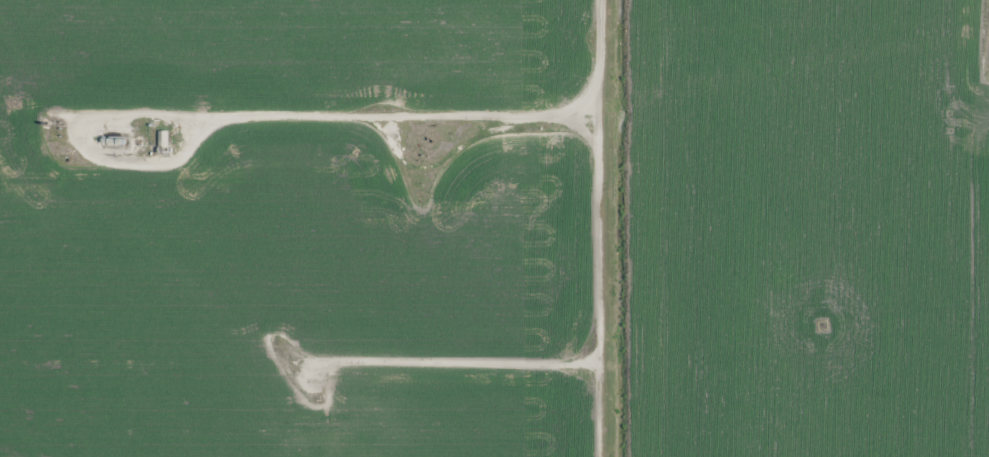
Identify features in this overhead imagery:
building: (170, 140)

